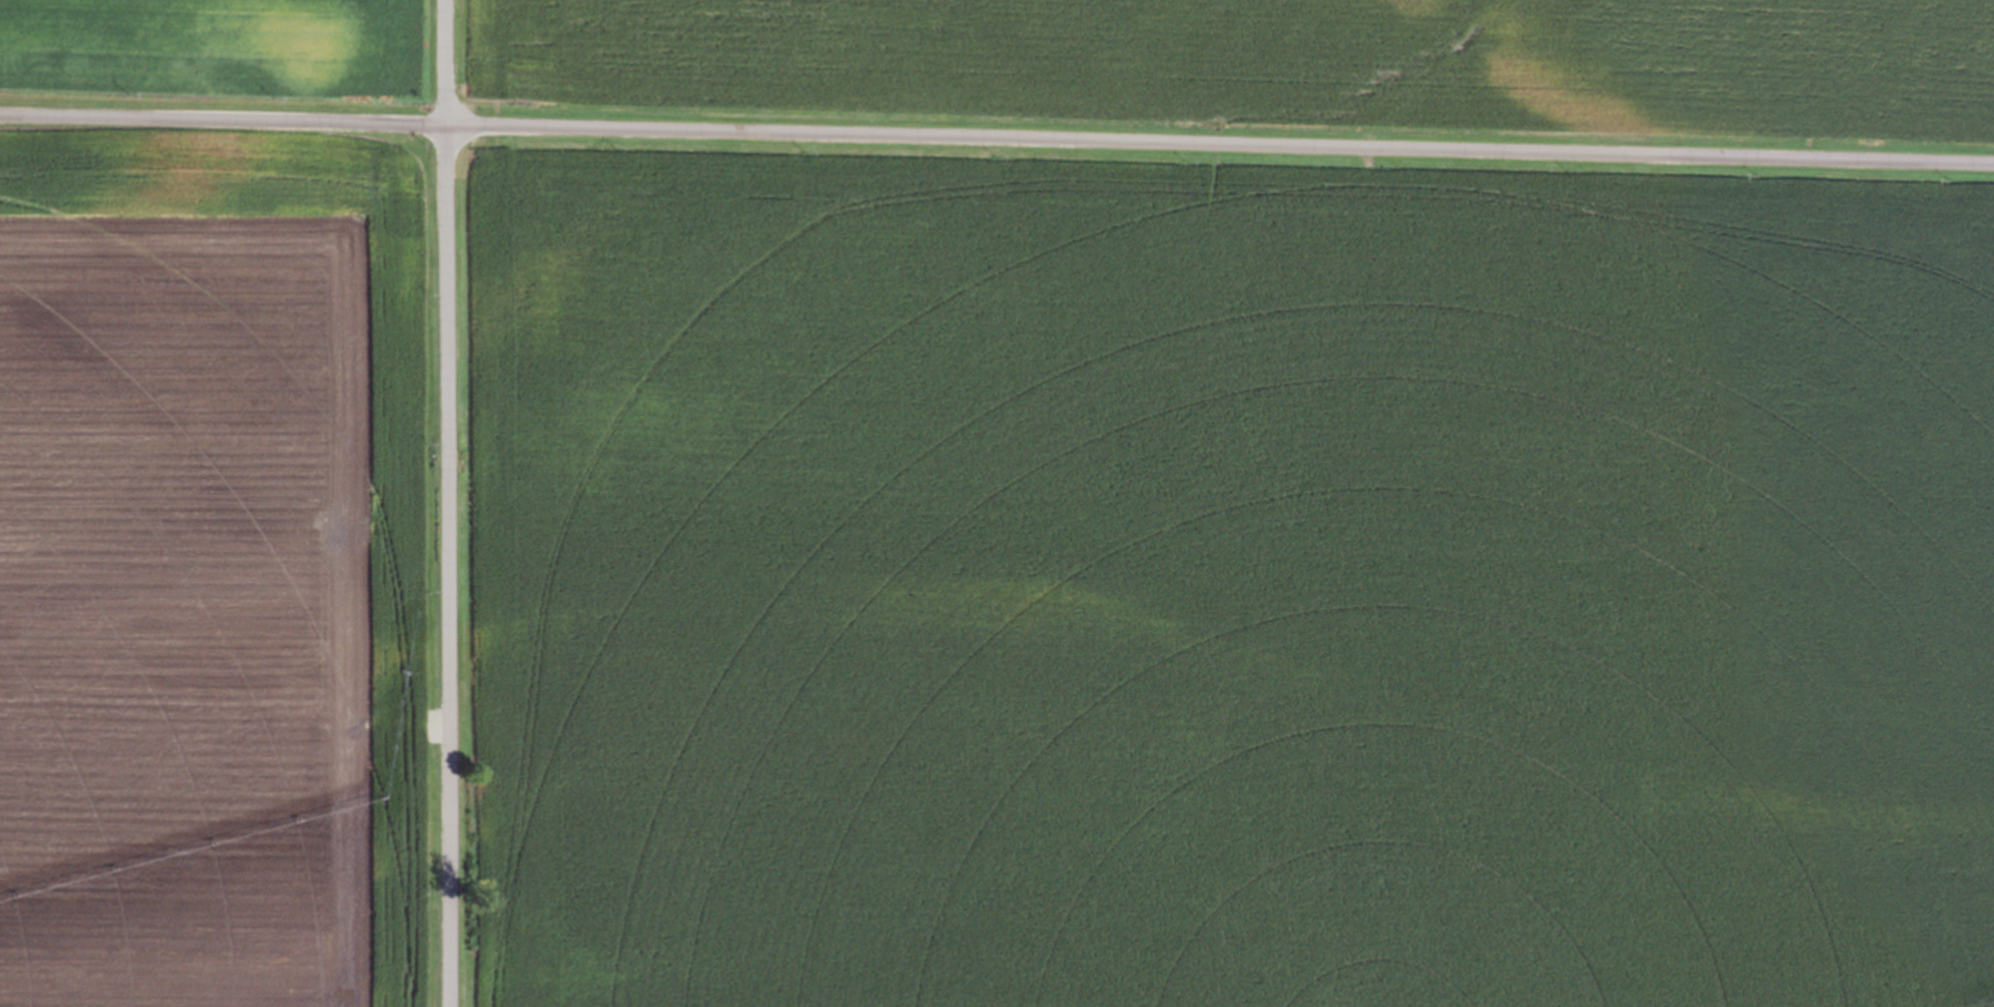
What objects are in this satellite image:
road: (223, 116)
road: (1220, 141)
road: (448, 503)

